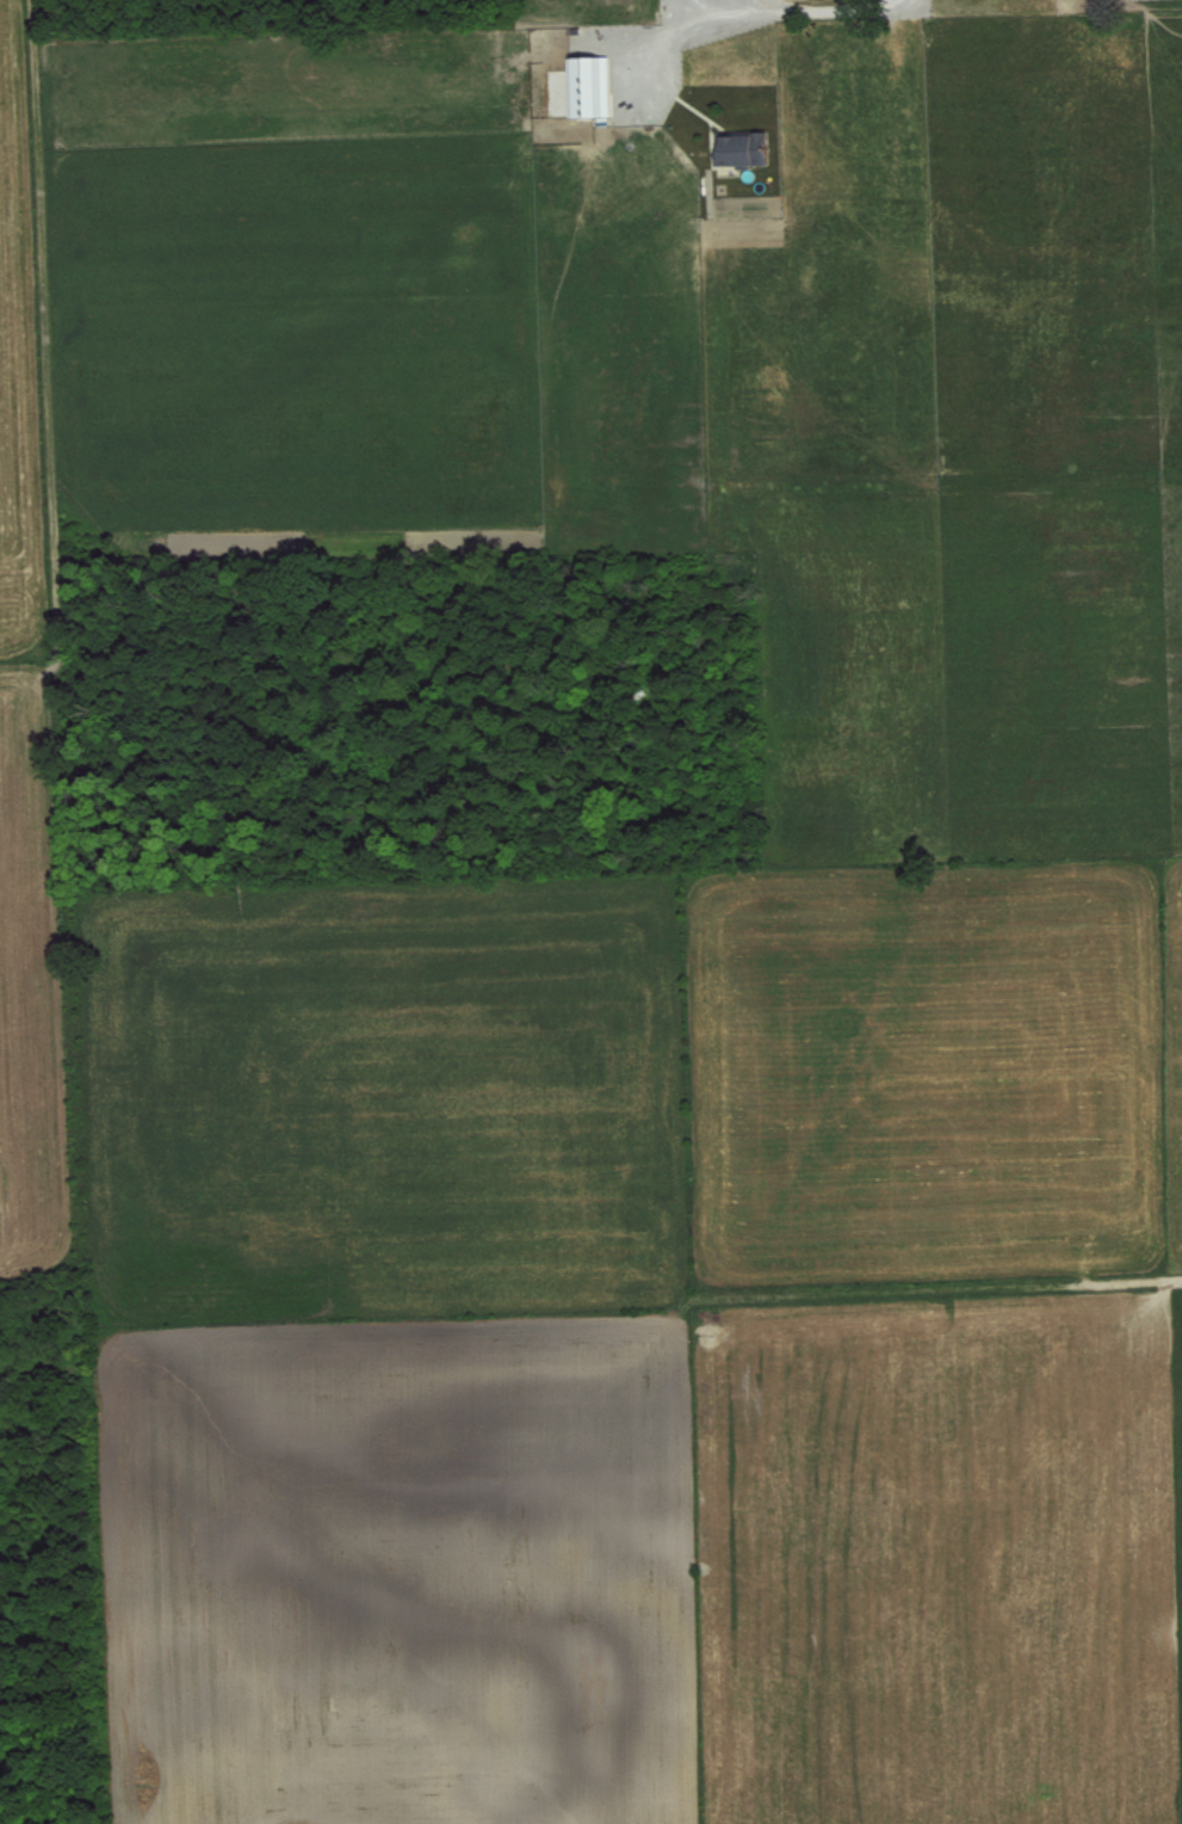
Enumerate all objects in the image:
road: (759, 11)
building: (590, 86)
building: (744, 148)

